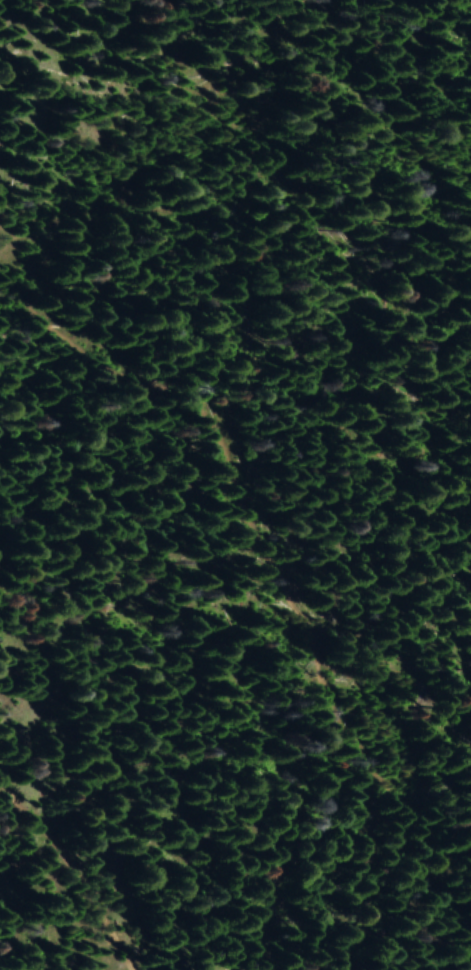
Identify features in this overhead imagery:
road: (65, 849)

